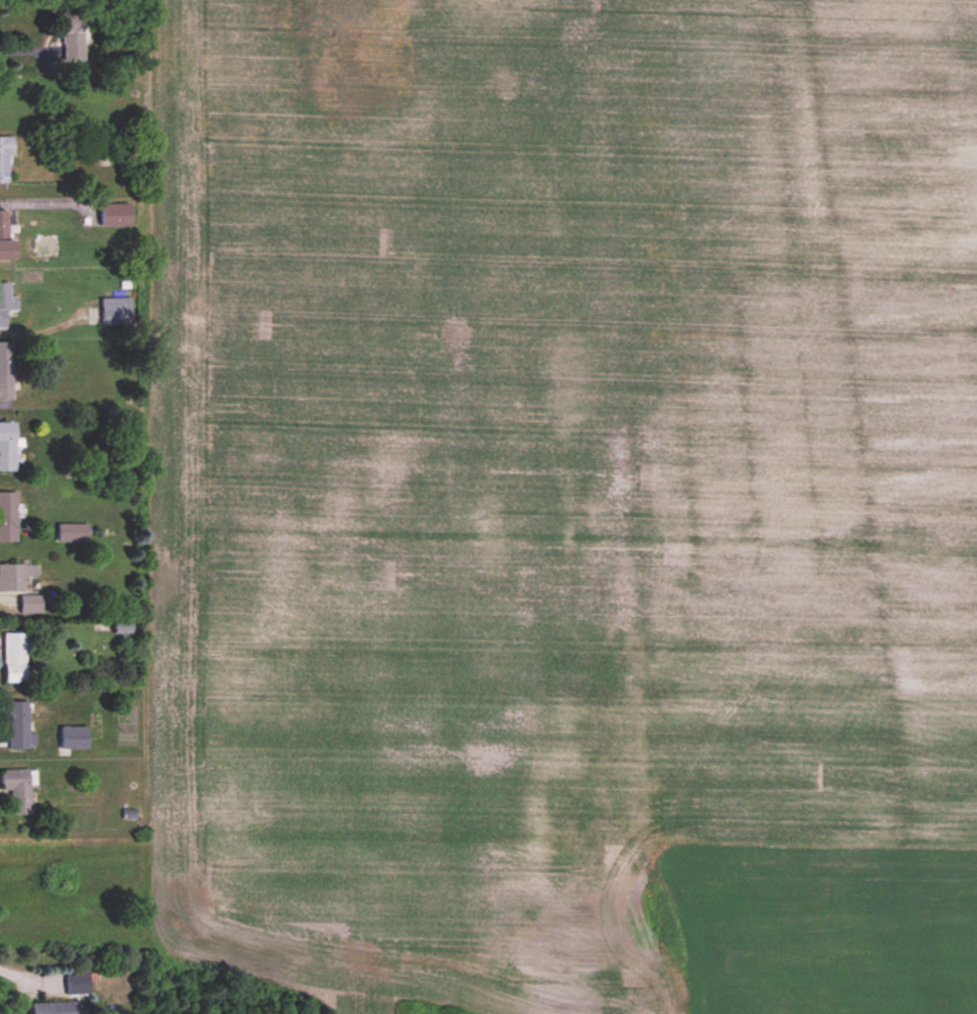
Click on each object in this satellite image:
building: (72, 36)
building: (5, 157)
building: (115, 216)
building: (6, 239)
building: (6, 303)
building: (115, 312)
building: (5, 371)
building: (7, 446)
building: (8, 517)
building: (72, 532)
building: (16, 576)
building: (30, 604)
building: (15, 658)
building: (18, 725)
building: (73, 738)
building: (19, 791)
building: (76, 984)
building: (51, 1008)

